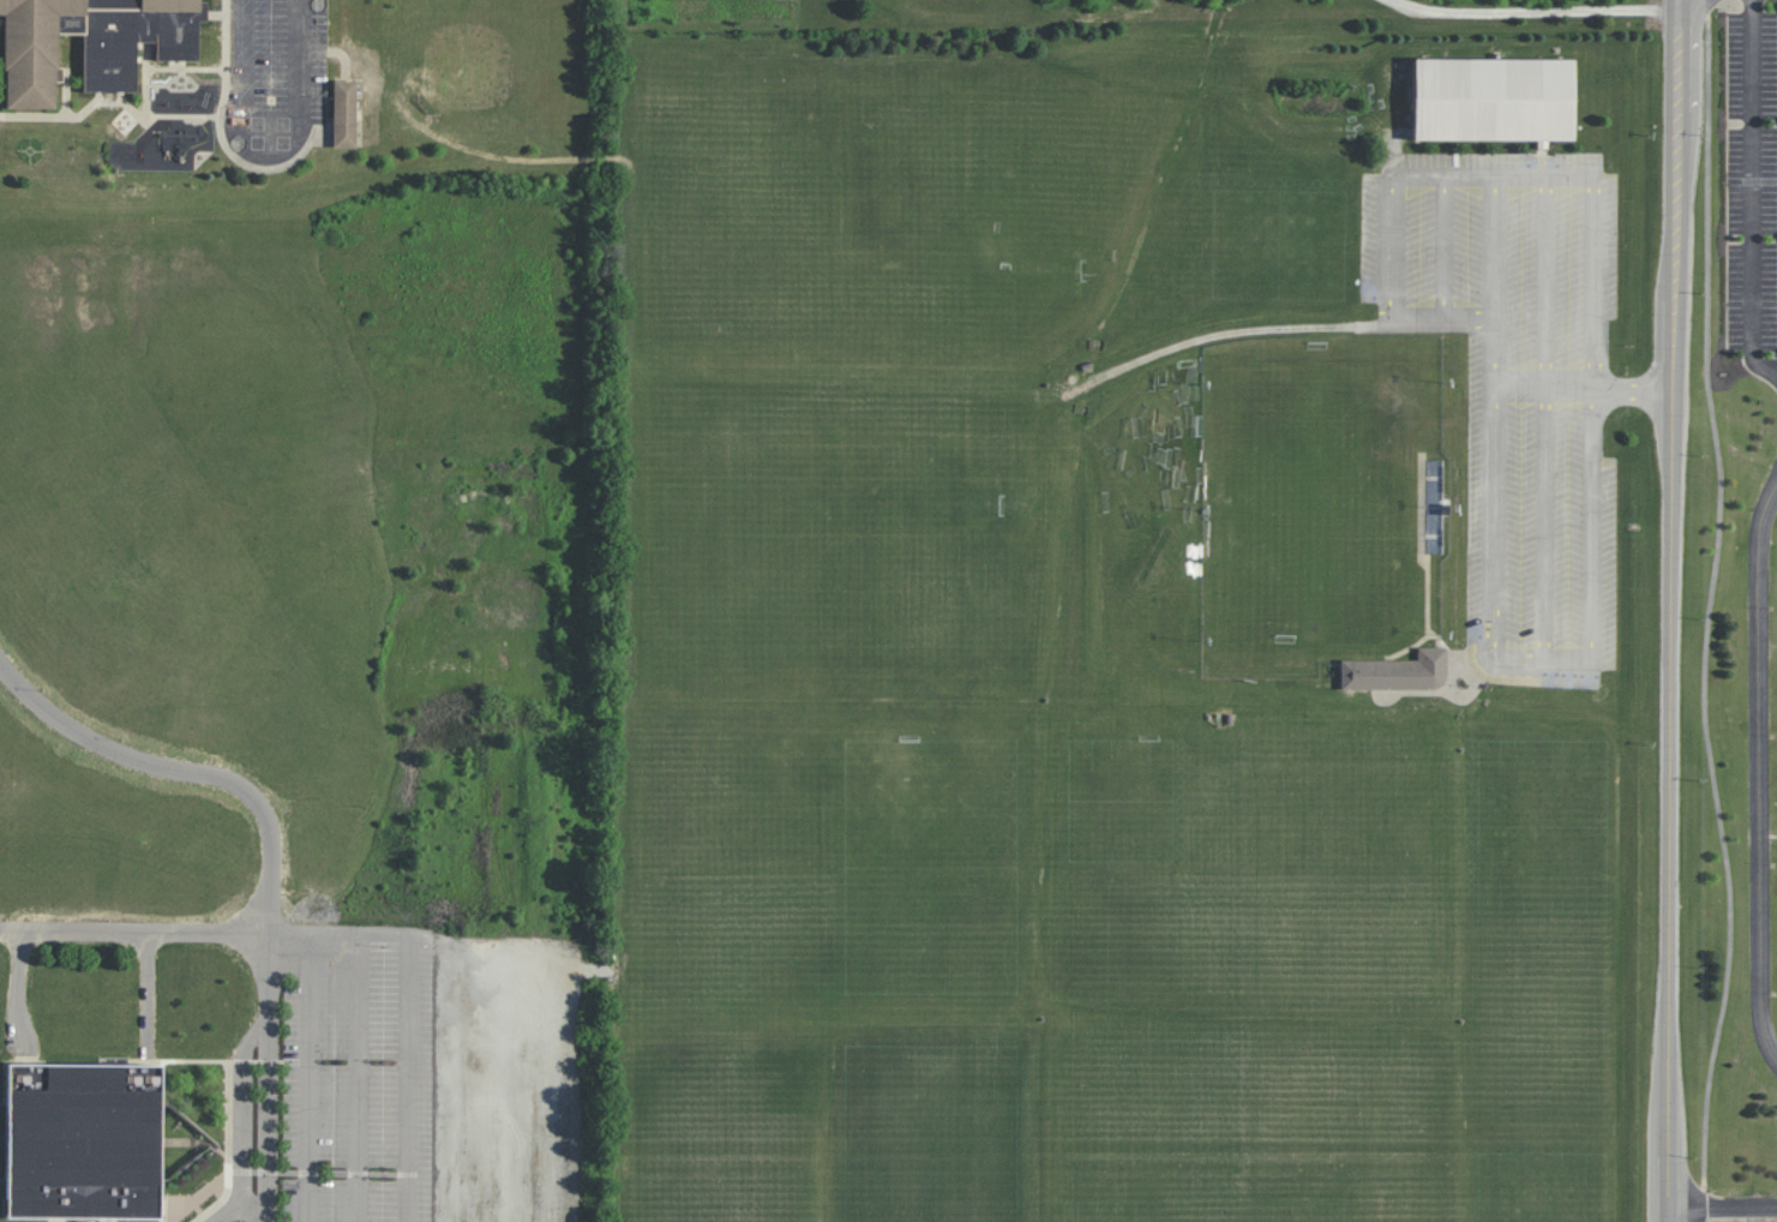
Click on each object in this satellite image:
road: (1413, 6)
road: (1709, 10)
road: (1278, 13)
building: (91, 42)
road: (300, 59)
building: (1493, 98)
building: (344, 113)
road: (1465, 174)
road: (1416, 175)
road: (1747, 196)
road: (1590, 229)
road: (1490, 280)
road: (1543, 280)
road: (1436, 316)
road: (1580, 384)
road: (1542, 519)
road: (1710, 604)
road: (1673, 611)
road: (1539, 653)
building: (1397, 672)
road: (1764, 767)
road: (187, 769)
road: (214, 936)
road: (26, 987)
road: (150, 989)
road: (270, 1080)
road: (311, 1080)
road: (356, 1082)
road: (404, 1082)
road: (240, 1124)
building: (83, 1142)
road: (1704, 1204)
road: (229, 1212)
road: (1723, 1216)

